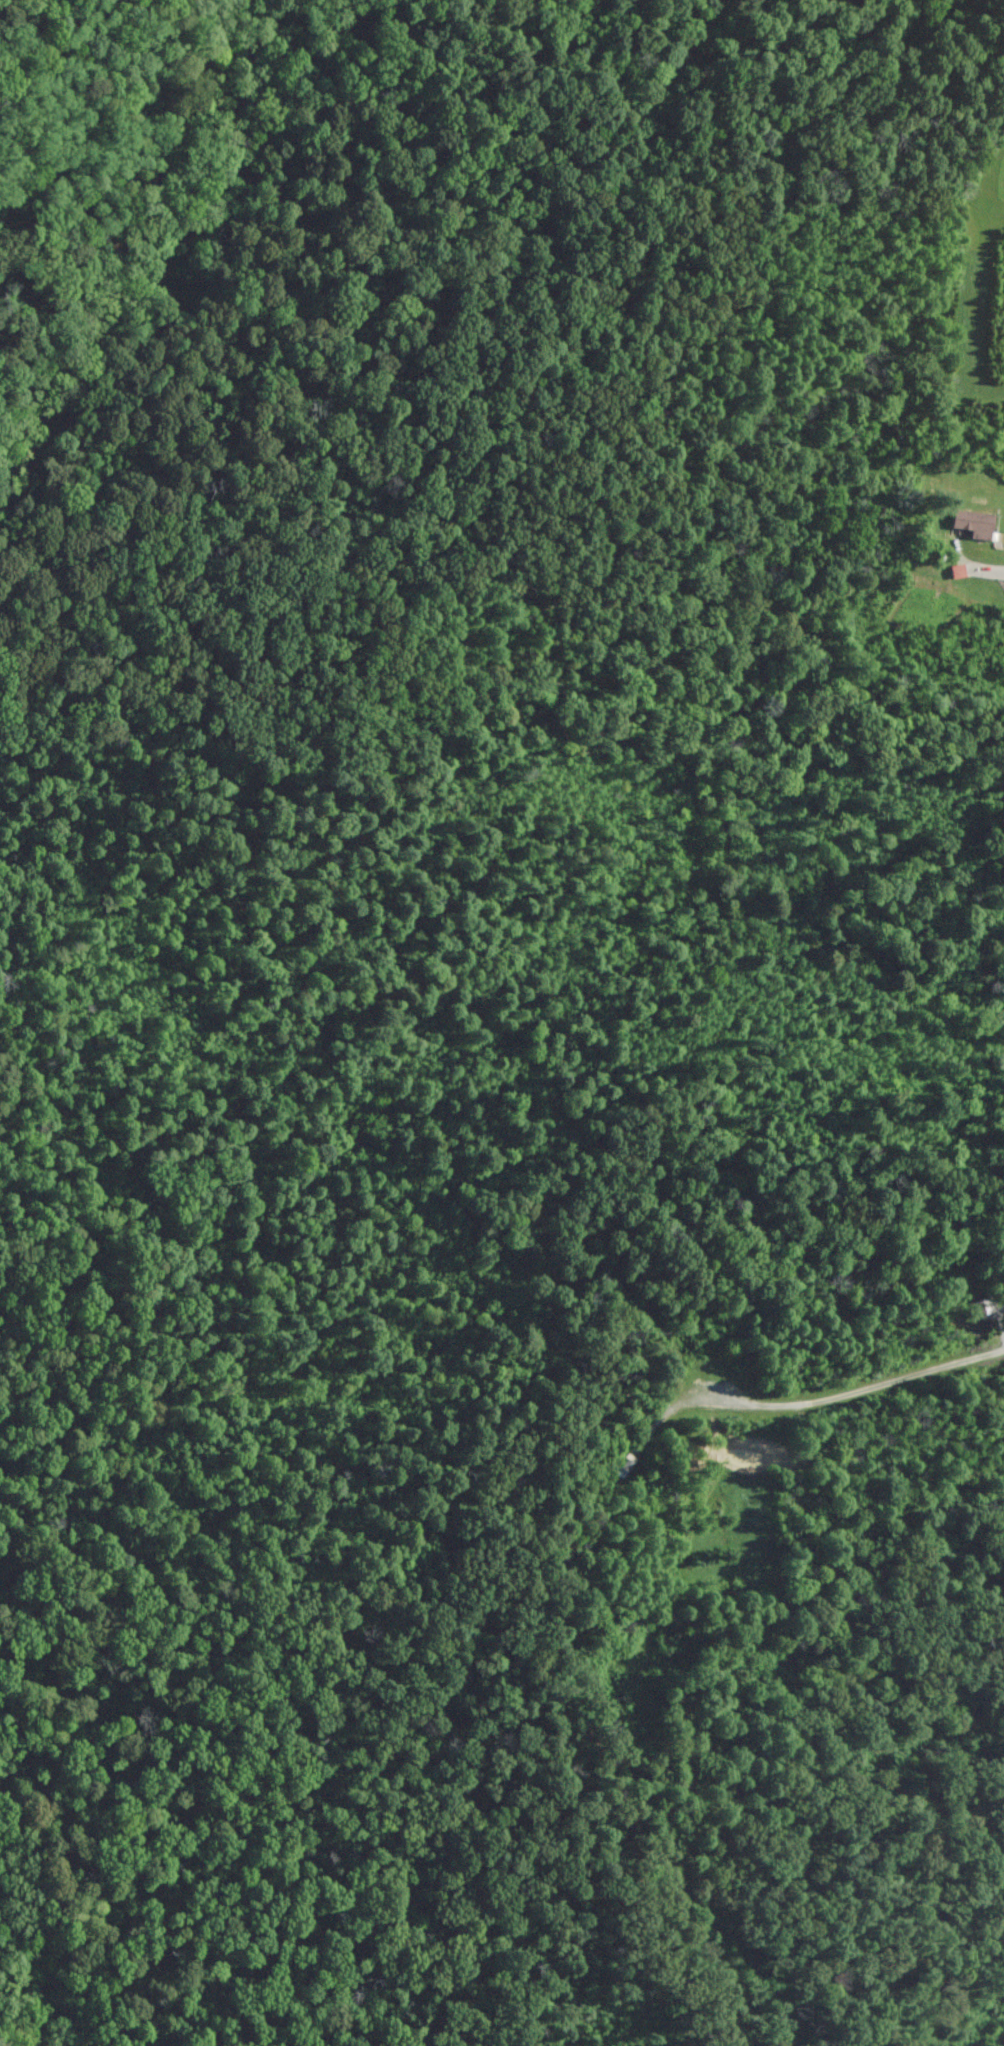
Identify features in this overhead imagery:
building: (974, 525)
road: (990, 560)

